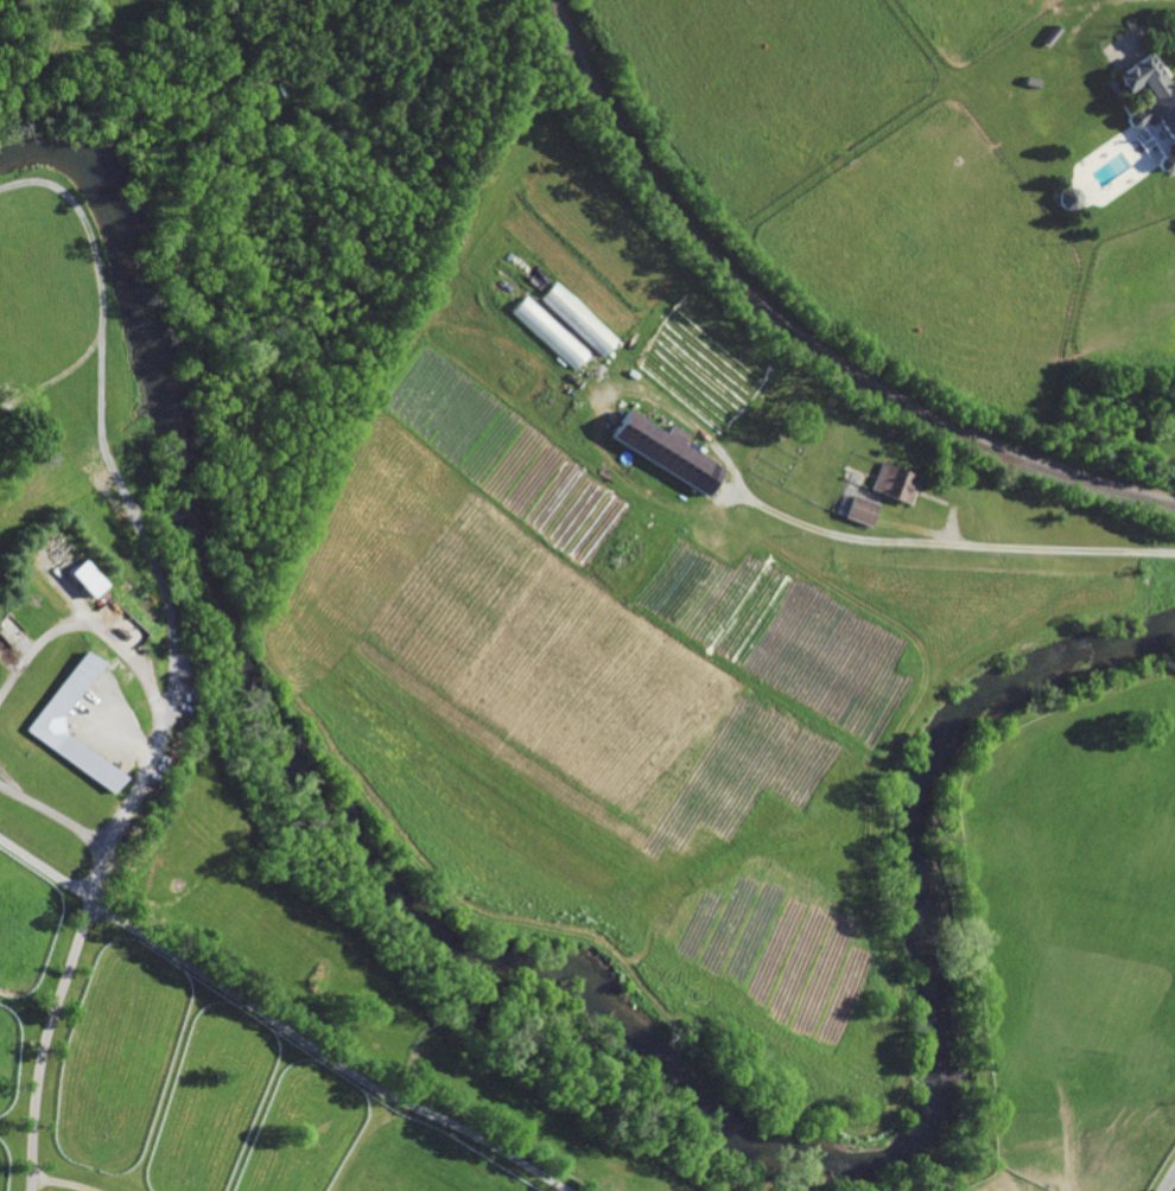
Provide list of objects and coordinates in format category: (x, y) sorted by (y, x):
building: (1055, 32)
building: (1031, 82)
building: (1152, 103)
building: (1069, 199)
building: (579, 318)
building: (550, 331)
railway: (796, 335)
building: (668, 450)
building: (896, 480)
building: (863, 509)
road: (955, 537)
building: (76, 566)
road: (142, 677)
building: (46, 721)
road: (56, 816)
road: (94, 879)
road: (278, 1025)
road: (45, 1043)
road: (1170, 1184)
building: (945, 1187)

